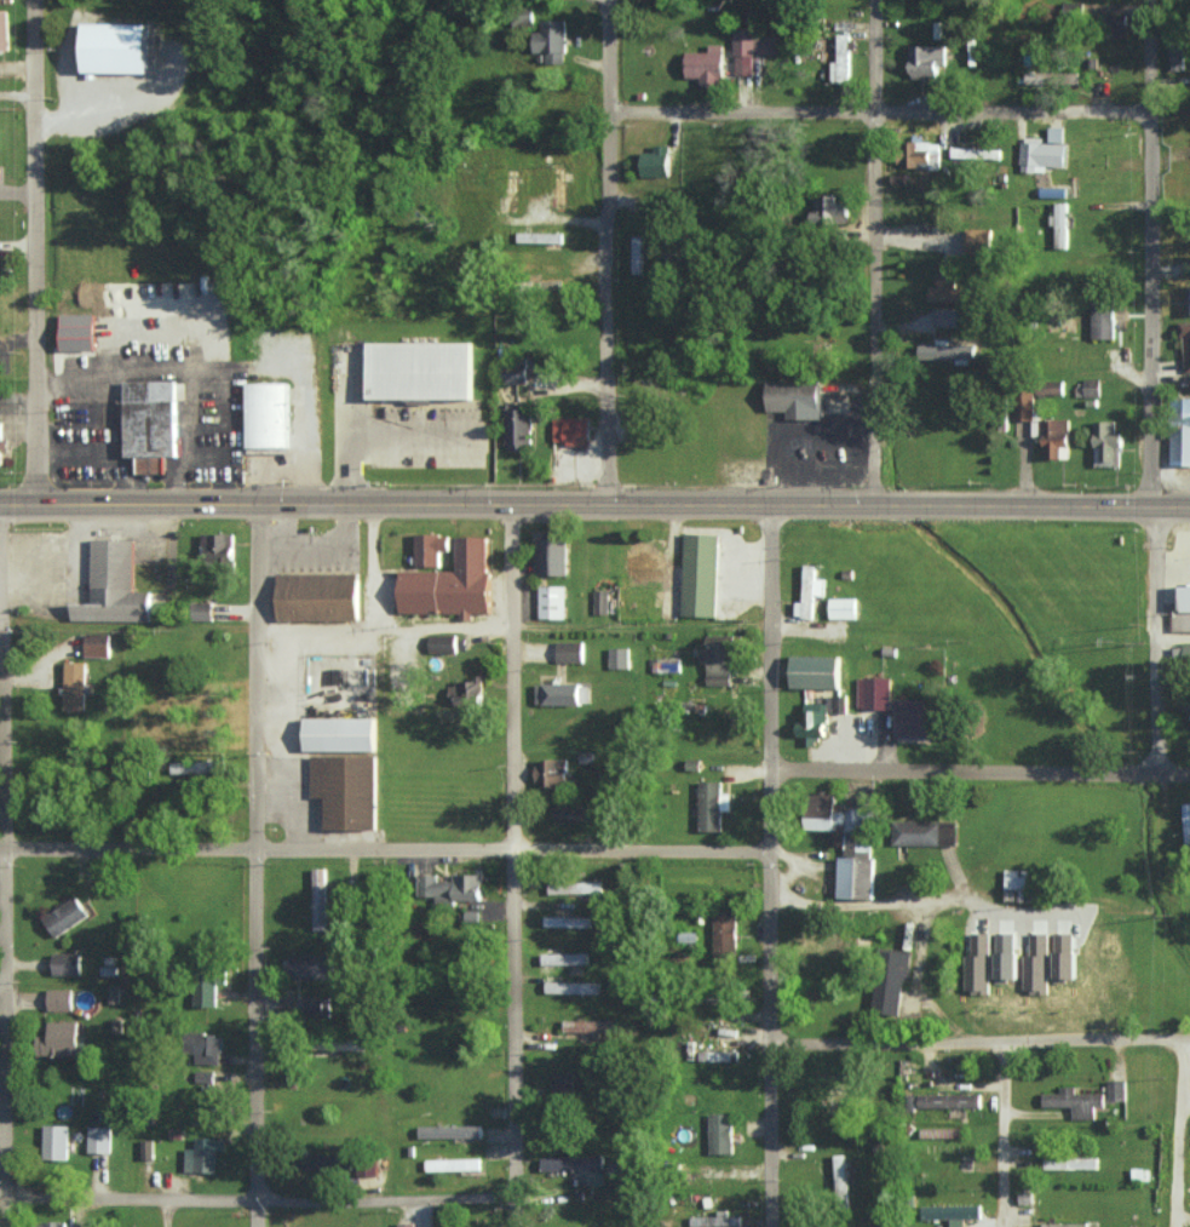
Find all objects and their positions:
building: (1115, 24)
building: (4, 30)
building: (551, 40)
building: (114, 47)
building: (749, 48)
building: (1177, 52)
building: (840, 61)
building: (927, 62)
building: (706, 65)
building: (1035, 78)
road: (879, 113)
building: (1056, 133)
building: (976, 153)
building: (922, 155)
building: (1040, 155)
building: (656, 161)
building: (558, 185)
road: (17, 189)
building: (511, 190)
building: (829, 211)
road: (563, 219)
building: (1060, 225)
building: (539, 237)
building: (978, 241)
road: (35, 251)
road: (604, 251)
road: (873, 251)
building: (637, 254)
building: (943, 289)
building: (1189, 300)
building: (945, 316)
building: (1103, 320)
building: (76, 334)
building: (1185, 345)
building: (948, 351)
building: (421, 372)
building: (514, 372)
road: (1150, 385)
building: (1088, 388)
parking lot: (295, 395)
building: (798, 399)
building: (1024, 406)
building: (269, 415)
building: (153, 423)
building: (518, 426)
road: (349, 428)
building: (570, 430)
road: (409, 431)
building: (1180, 431)
parking lot: (426, 435)
building: (1056, 437)
building: (0, 443)
building: (1106, 445)
road: (594, 503)
building: (217, 543)
building: (432, 549)
building: (550, 551)
building: (638, 557)
parking lot: (314, 562)
parking lot: (1174, 563)
road: (370, 566)
road: (1171, 573)
building: (701, 575)
building: (453, 584)
building: (114, 586)
building: (806, 592)
building: (320, 597)
building: (1185, 598)
building: (551, 601)
building: (602, 601)
building: (843, 607)
building: (201, 610)
road: (443, 626)
road: (316, 630)
road: (1172, 632)
road: (770, 635)
building: (442, 642)
building: (96, 643)
building: (569, 649)
building: (1182, 652)
building: (619, 656)
building: (718, 658)
building: (815, 670)
road: (257, 675)
road: (512, 676)
building: (74, 684)
building: (466, 689)
building: (557, 692)
building: (873, 692)
building: (820, 716)
building: (920, 722)
road: (4, 734)
building: (341, 735)
building: (195, 766)
road: (981, 769)
building: (551, 772)
building: (347, 791)
building: (711, 804)
building: (571, 812)
building: (839, 821)
building: (1186, 822)
building: (924, 831)
road: (384, 849)
building: (846, 876)
building: (1016, 878)
building: (450, 887)
building: (575, 887)
building: (318, 894)
road: (881, 902)
building: (64, 914)
building: (567, 921)
building: (724, 931)
building: (823, 942)
building: (1005, 956)
building: (1064, 956)
building: (564, 957)
building: (65, 963)
building: (977, 963)
building: (1036, 963)
building: (309, 965)
building: (890, 980)
building: (571, 986)
building: (205, 987)
road: (768, 996)
building: (58, 998)
building: (317, 1005)
building: (587, 1026)
road: (255, 1037)
road: (8, 1038)
building: (57, 1038)
road: (511, 1038)
road: (978, 1042)
building: (205, 1047)
building: (726, 1055)
building: (203, 1078)
building: (562, 1080)
building: (1116, 1089)
building: (948, 1100)
building: (1075, 1101)
building: (449, 1130)
building: (720, 1133)
road: (1002, 1134)
road: (1179, 1134)
building: (99, 1139)
building: (54, 1141)
building: (200, 1159)
building: (320, 1160)
building: (573, 1162)
building: (453, 1163)
building: (1070, 1163)
building: (367, 1168)
building: (840, 1176)
road: (259, 1193)
building: (952, 1211)
building: (711, 1220)
building: (47, 1223)
building: (406, 1223)

